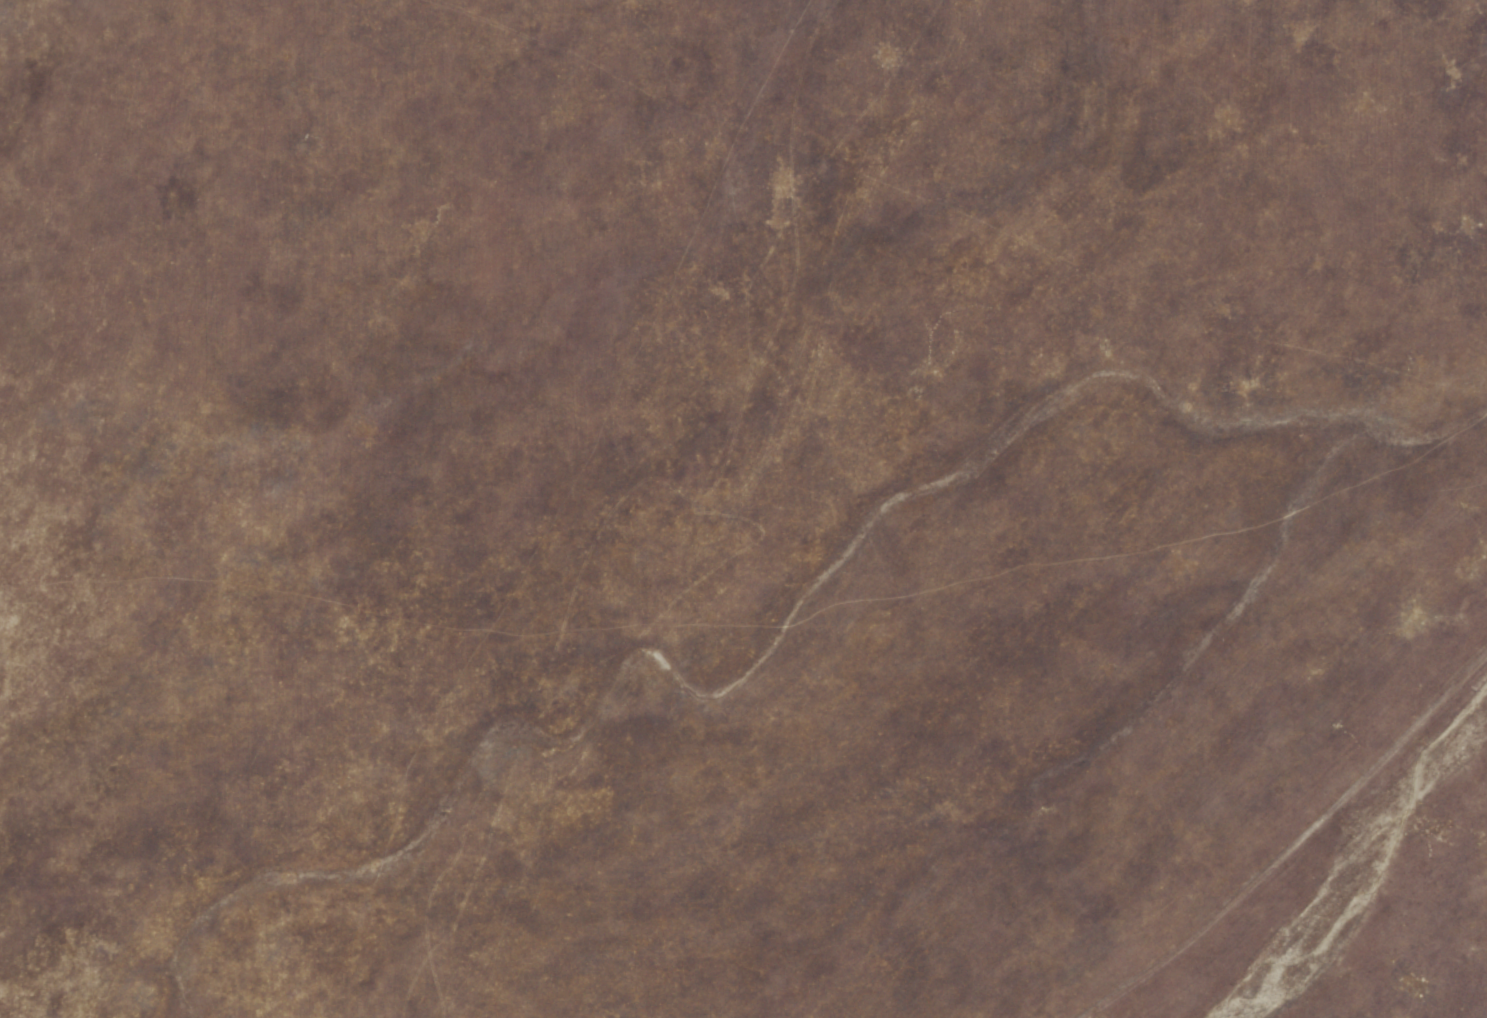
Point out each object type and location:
road: (1294, 845)

